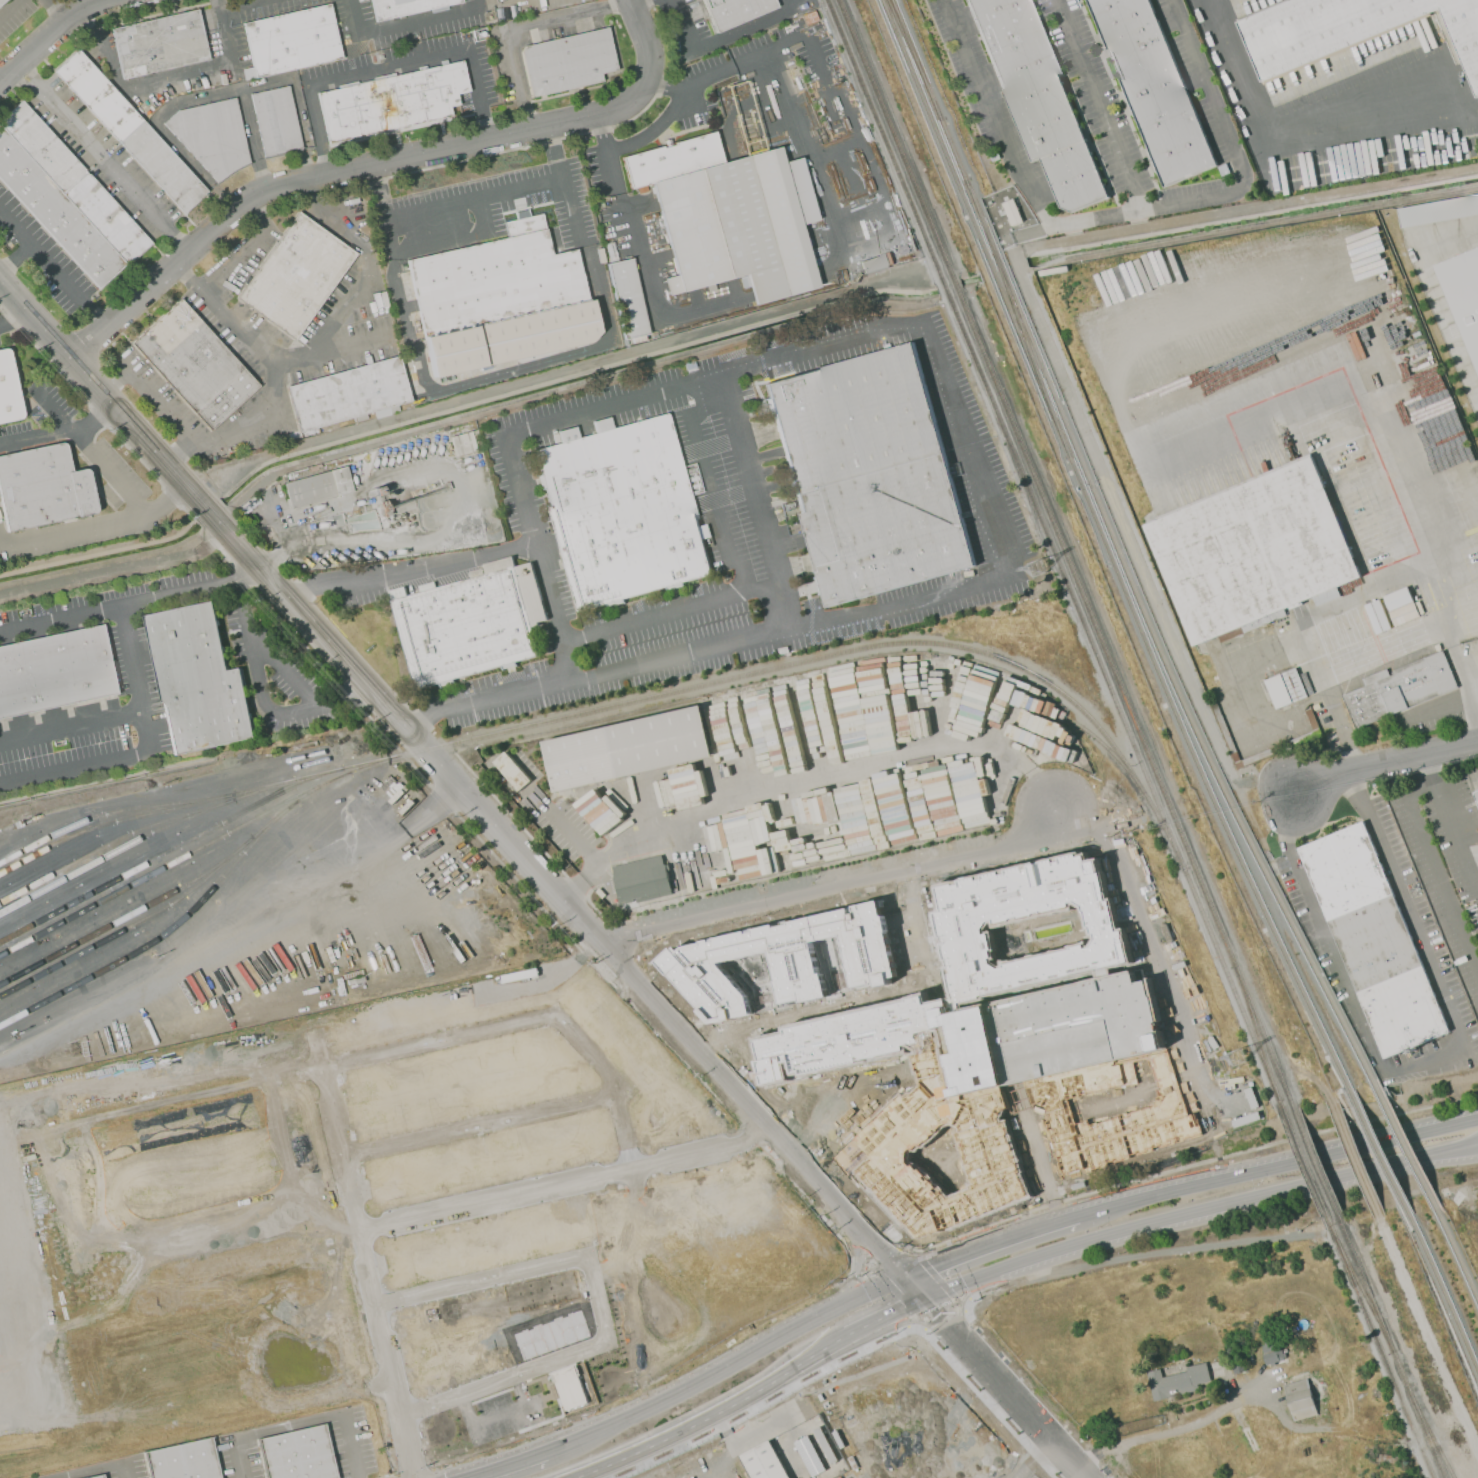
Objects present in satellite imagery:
building: (1, 1)
road: (234, 4)
road: (7, 7)
building: (405, 7)
building: (735, 11)
building: (505, 12)
building: (498, 14)
road: (405, 24)
road: (681, 26)
road: (743, 26)
road: (517, 28)
building: (1349, 29)
road: (48, 34)
road: (643, 40)
building: (290, 41)
building: (159, 44)
road: (767, 53)
railway: (913, 60)
building: (569, 63)
road: (207, 67)
road: (387, 68)
building: (1153, 88)
building: (1037, 99)
building: (391, 101)
road: (186, 102)
road: (1101, 104)
building: (276, 121)
road: (653, 129)
building: (130, 132)
building: (211, 136)
road: (1298, 137)
road: (102, 156)
road: (797, 156)
road: (331, 173)
building: (64, 199)
road: (473, 201)
building: (1438, 211)
road: (1120, 214)
building: (726, 218)
road: (440, 240)
road: (246, 248)
building: (599, 254)
road: (16, 258)
road: (368, 260)
building: (875, 263)
road: (52, 266)
road: (646, 266)
building: (296, 275)
building: (1462, 295)
building: (627, 298)
building: (501, 299)
road: (1435, 299)
road: (12, 318)
railway: (1016, 318)
road: (331, 347)
road: (271, 359)
building: (194, 364)
road: (534, 364)
building: (8, 390)
building: (347, 394)
road: (1477, 399)
road: (1477, 402)
road: (163, 404)
road: (94, 419)
road: (35, 434)
building: (464, 442)
road: (90, 447)
building: (312, 466)
building: (869, 475)
road: (713, 482)
road: (976, 482)
building: (316, 486)
building: (42, 487)
road: (757, 500)
building: (622, 511)
road: (1418, 519)
road: (95, 525)
building: (704, 531)
railway: (1063, 552)
railway: (1053, 553)
building: (1252, 553)
road: (478, 555)
railway: (1118, 555)
railway: (1109, 556)
power tower: (1035, 568)
road: (129, 601)
building: (1400, 606)
road: (669, 610)
building: (1371, 620)
building: (469, 622)
building: (782, 651)
road: (1462, 668)
building: (55, 670)
road: (1358, 675)
building: (197, 679)
building: (1285, 688)
building: (1399, 689)
road: (1473, 690)
railway: (633, 700)
road: (1473, 706)
road: (278, 717)
road: (71, 723)
railway: (1087, 732)
road: (146, 746)
building: (1279, 747)
building: (628, 750)
road: (1386, 768)
road: (830, 776)
building: (692, 777)
road: (452, 780)
building: (394, 791)
building: (1476, 797)
railway: (94, 819)
road: (563, 828)
road: (1455, 840)
railway: (110, 845)
railway: (121, 850)
railway: (156, 860)
road: (1430, 861)
railway: (169, 862)
building: (640, 880)
road: (834, 890)
railway: (205, 898)
railway: (143, 906)
road: (913, 919)
railway: (124, 927)
building: (1372, 939)
road: (1149, 941)
building: (784, 959)
road: (522, 1019)
railway: (1254, 1030)
building: (1048, 1032)
power tower: (1235, 1057)
road: (1429, 1062)
road: (476, 1125)
railway: (1404, 1146)
railway: (1378, 1155)
railway: (1314, 1164)
road: (1277, 1167)
railway: (1304, 1168)
road: (562, 1184)
building: (879, 1184)
road: (1198, 1213)
road: (990, 1244)
railway: (1454, 1252)
road: (567, 1259)
road: (857, 1264)
road: (361, 1266)
road: (914, 1288)
railway: (1361, 1289)
railway: (1441, 1289)
road: (964, 1309)
road: (943, 1321)
road: (871, 1323)
road: (906, 1324)
railway: (1391, 1351)
road: (753, 1353)
building: (1271, 1353)
railway: (1380, 1353)
road: (803, 1357)
building: (1237, 1365)
building: (1175, 1382)
road: (455, 1397)
building: (1299, 1399)
road: (1023, 1410)
road: (497, 1417)
road: (737, 1418)
railway: (974, 1422)
road: (298, 1424)
road: (675, 1427)
road: (1312, 1429)
road: (1164, 1432)
railway: (1429, 1432)
railway: (1458, 1435)
road: (572, 1441)
building: (824, 1444)
building: (297, 1453)
building: (808, 1456)
building: (182, 1460)
building: (762, 1462)
road: (507, 1465)
road: (99, 1469)
building: (99, 1477)

